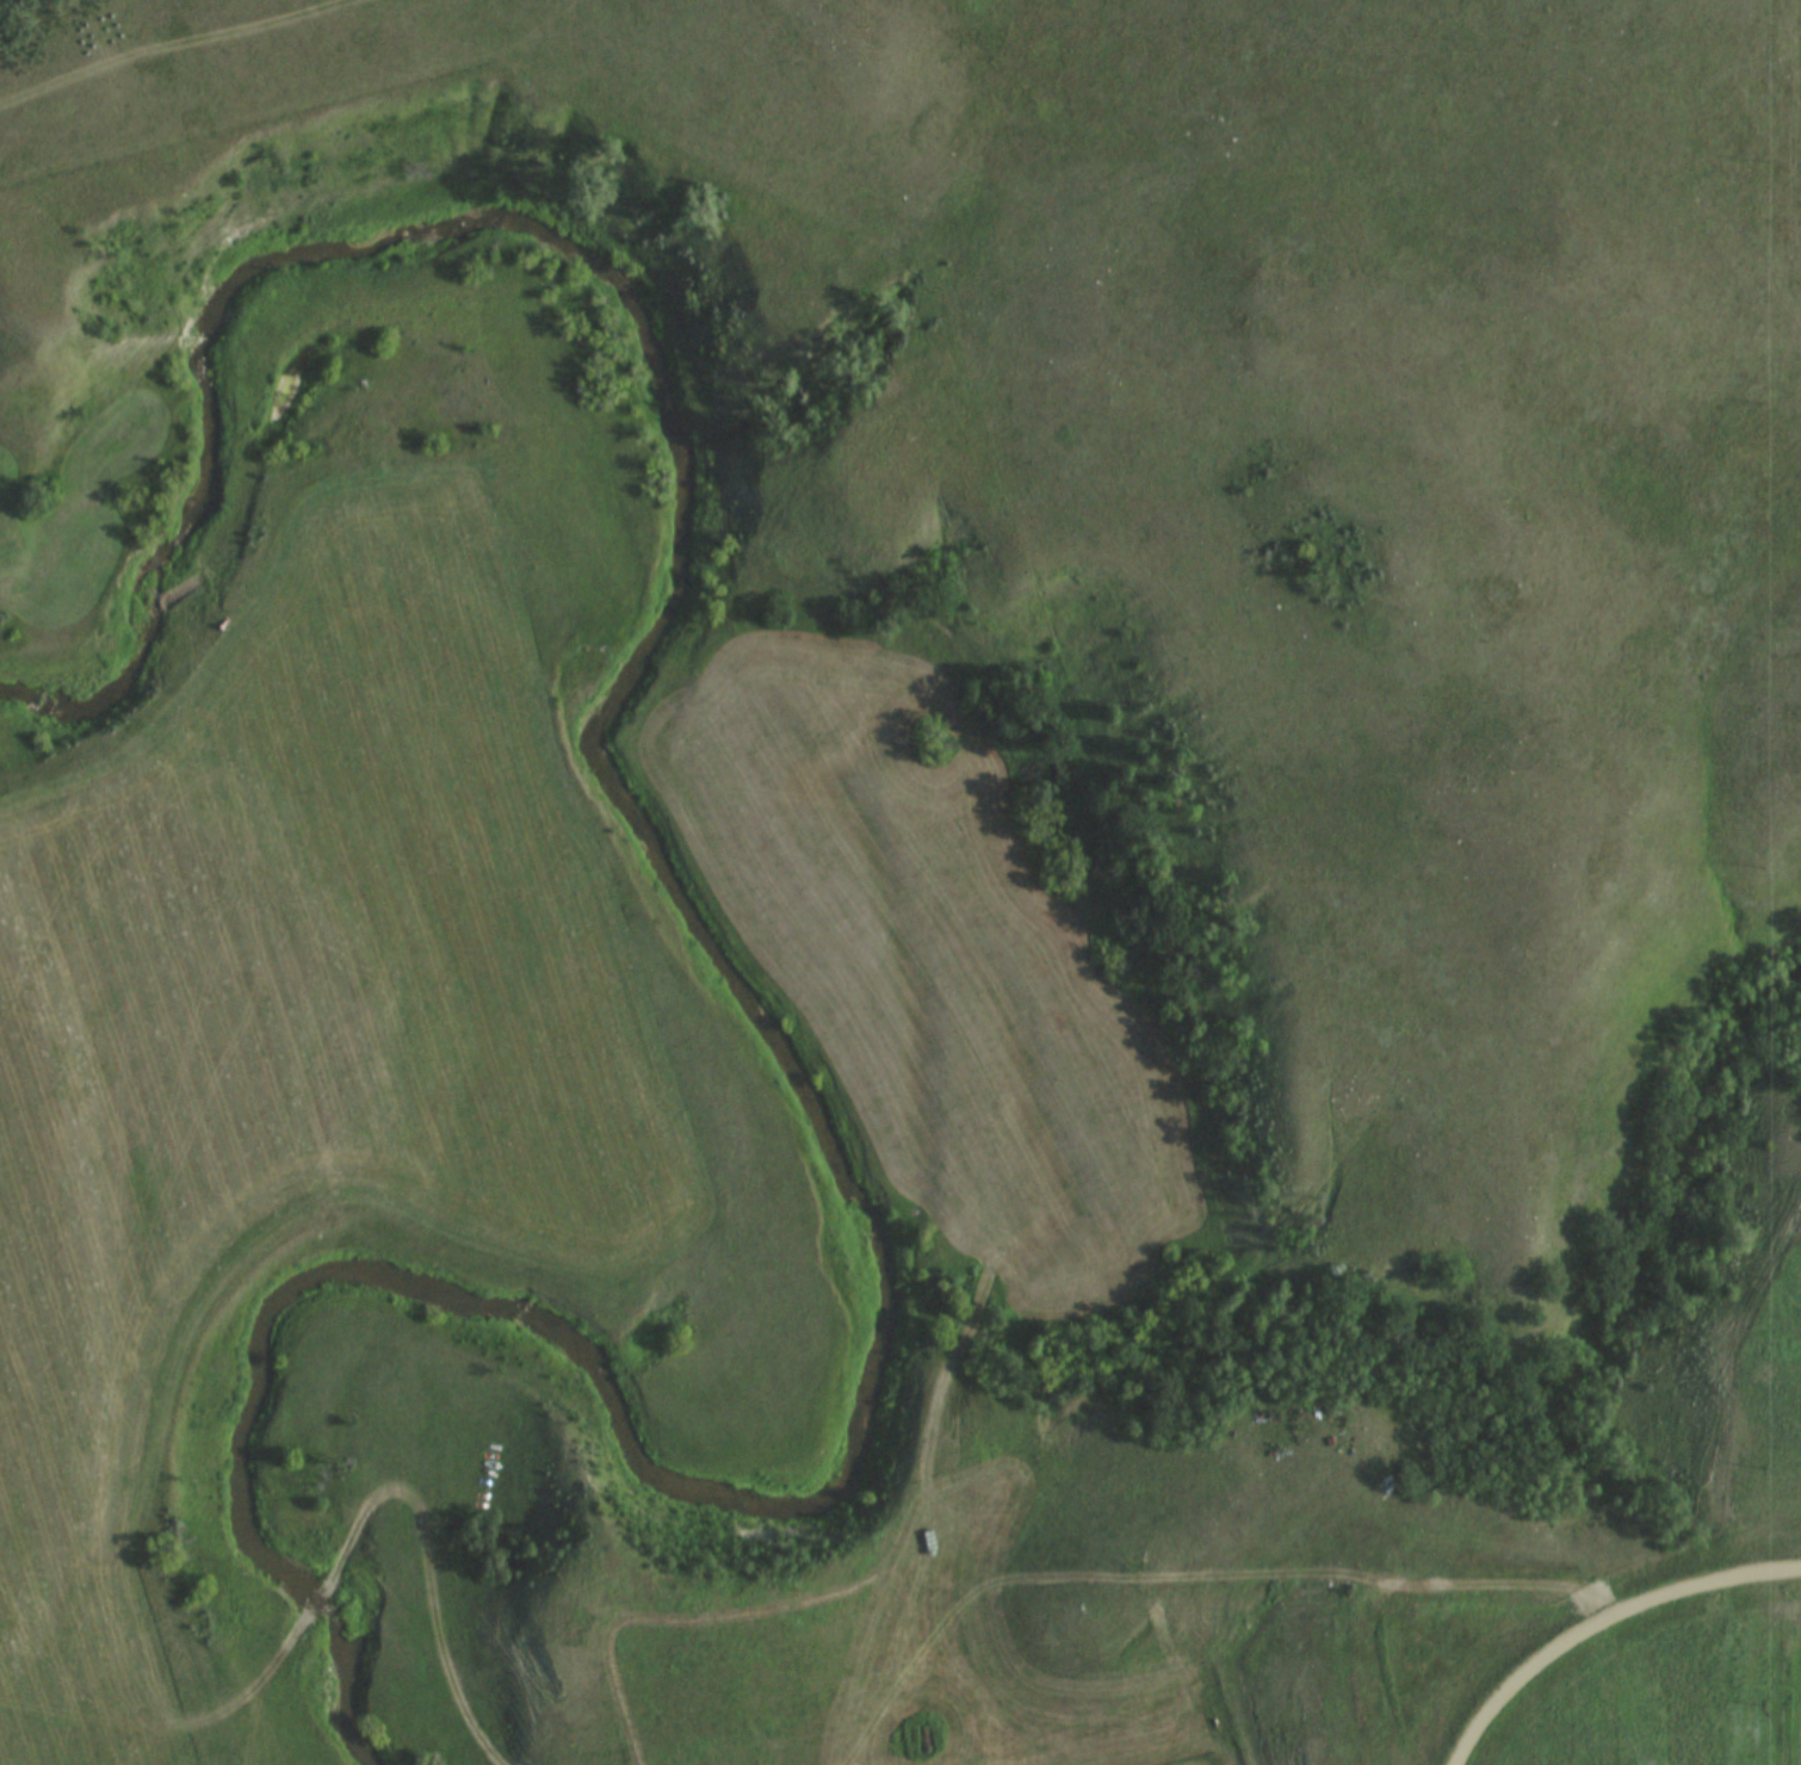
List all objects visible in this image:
road: (1603, 1622)
building: (1749, 1666)
building: (1646, 1702)
building: (1749, 1728)

